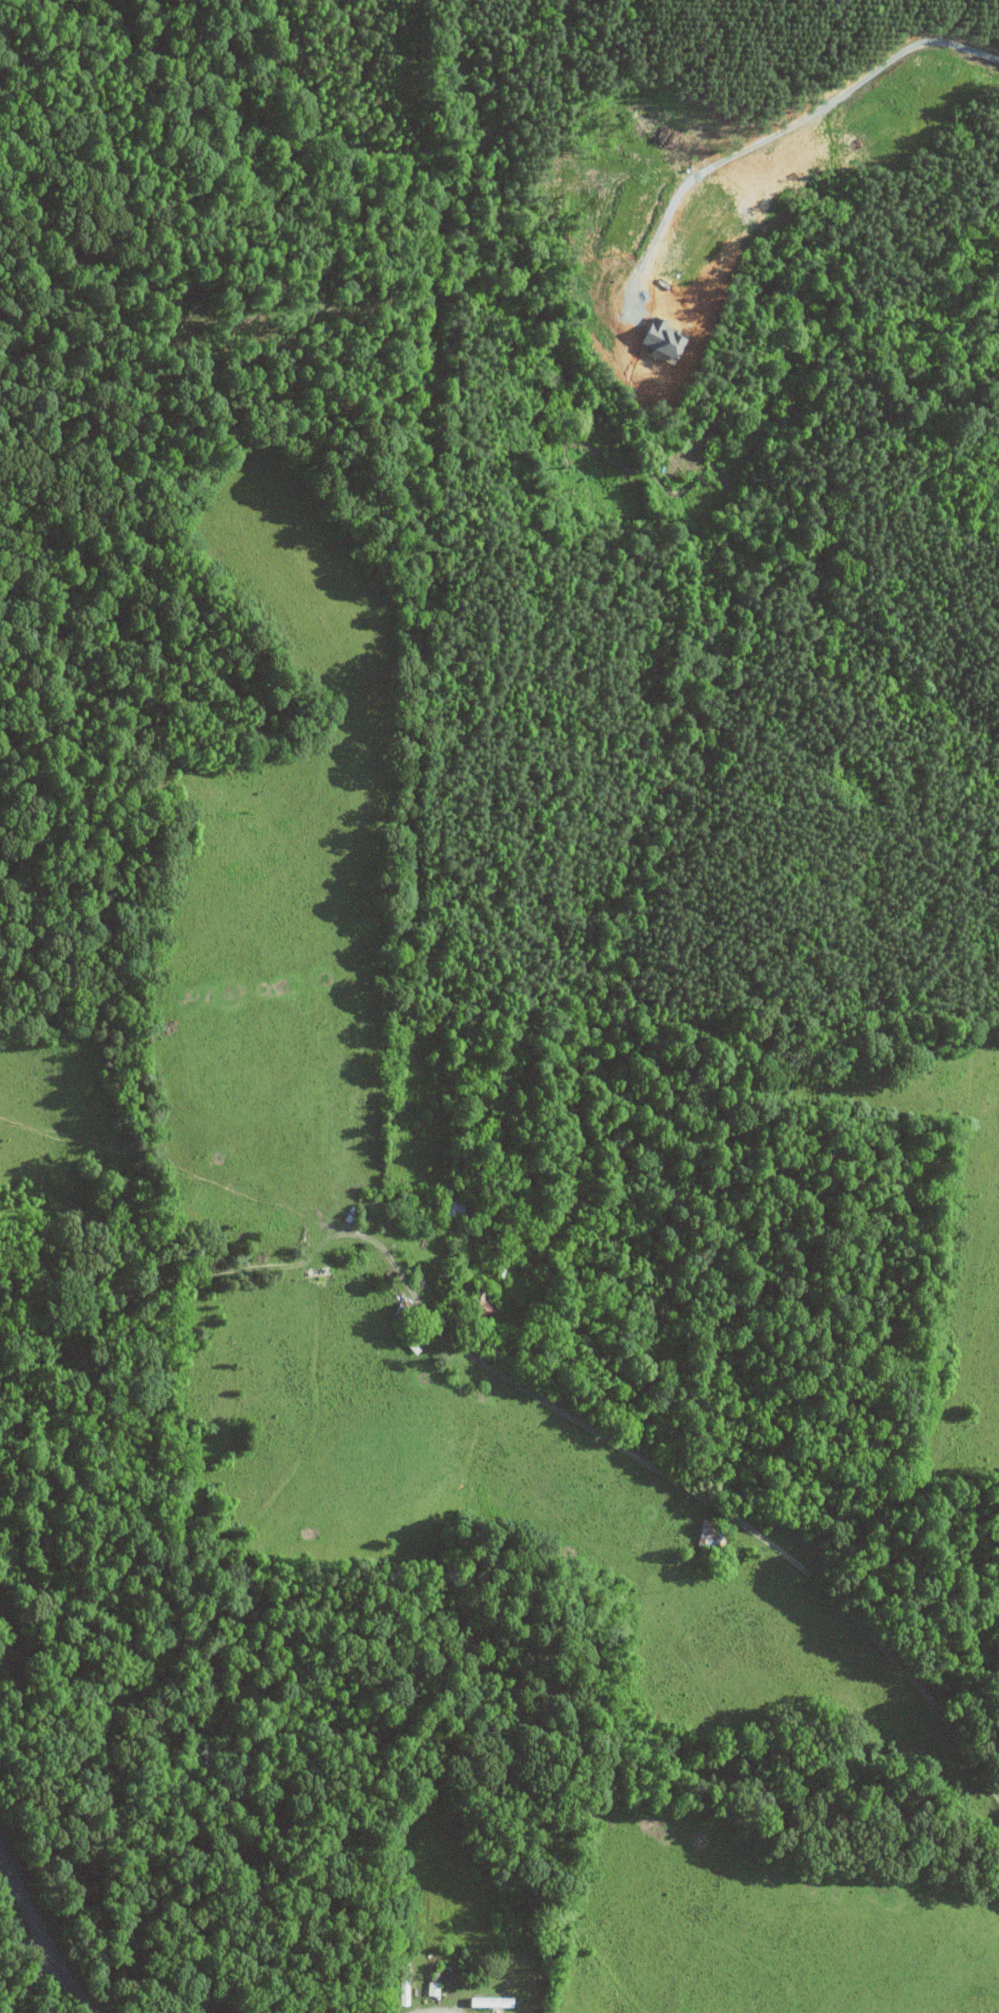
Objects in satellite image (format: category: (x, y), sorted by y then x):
road: (799, 134)
road: (723, 1511)
road: (21, 1940)
road: (42, 1942)
road: (22, 1963)
road: (30, 1982)
building: (494, 2001)
road: (434, 2010)

